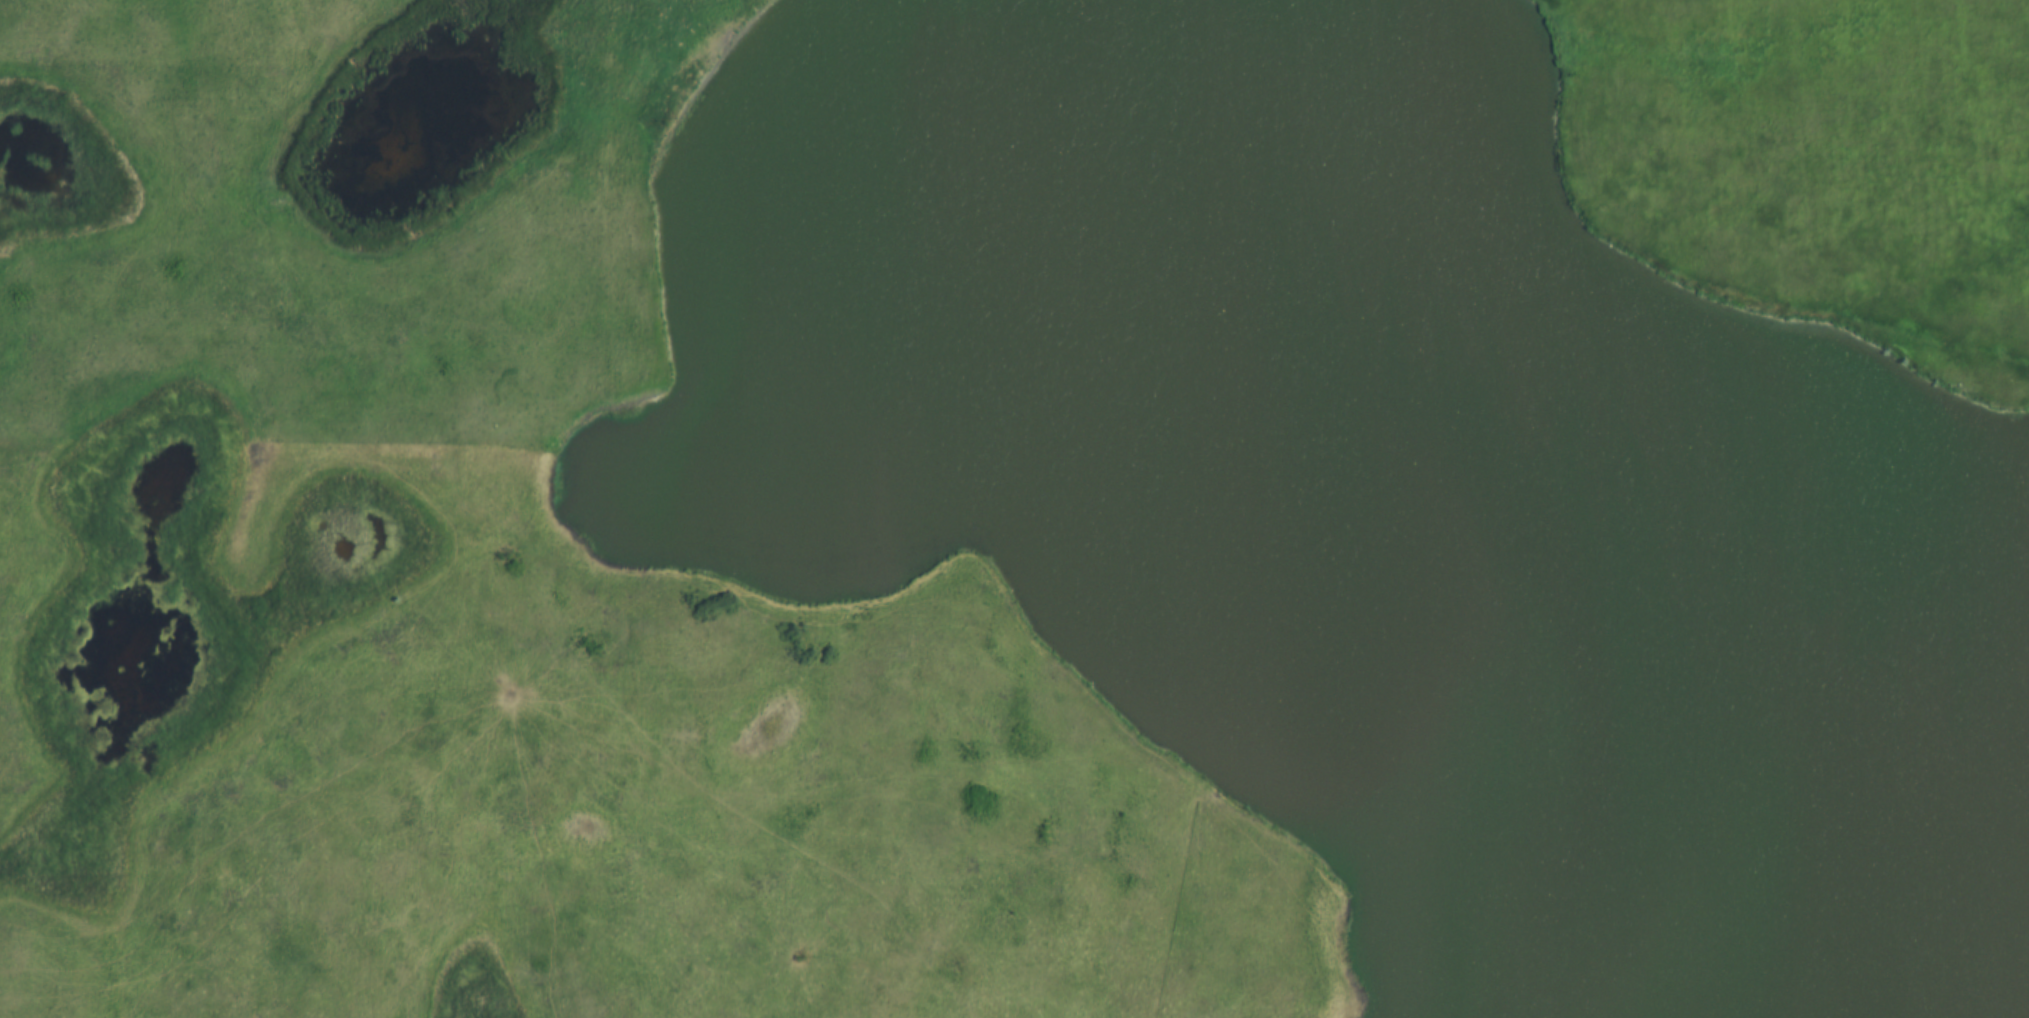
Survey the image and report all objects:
river: (1716, 504)
river: (2001, 504)
river: (1793, 853)

